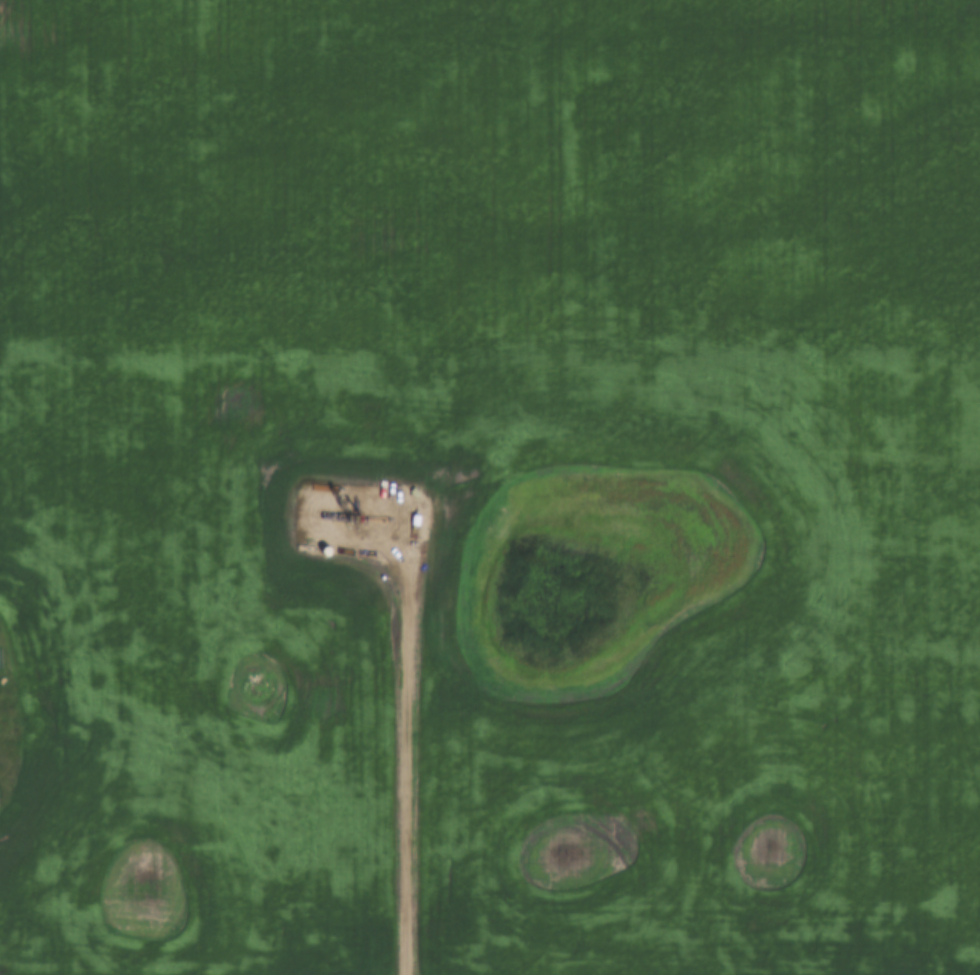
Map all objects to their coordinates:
building: (9, 721)

